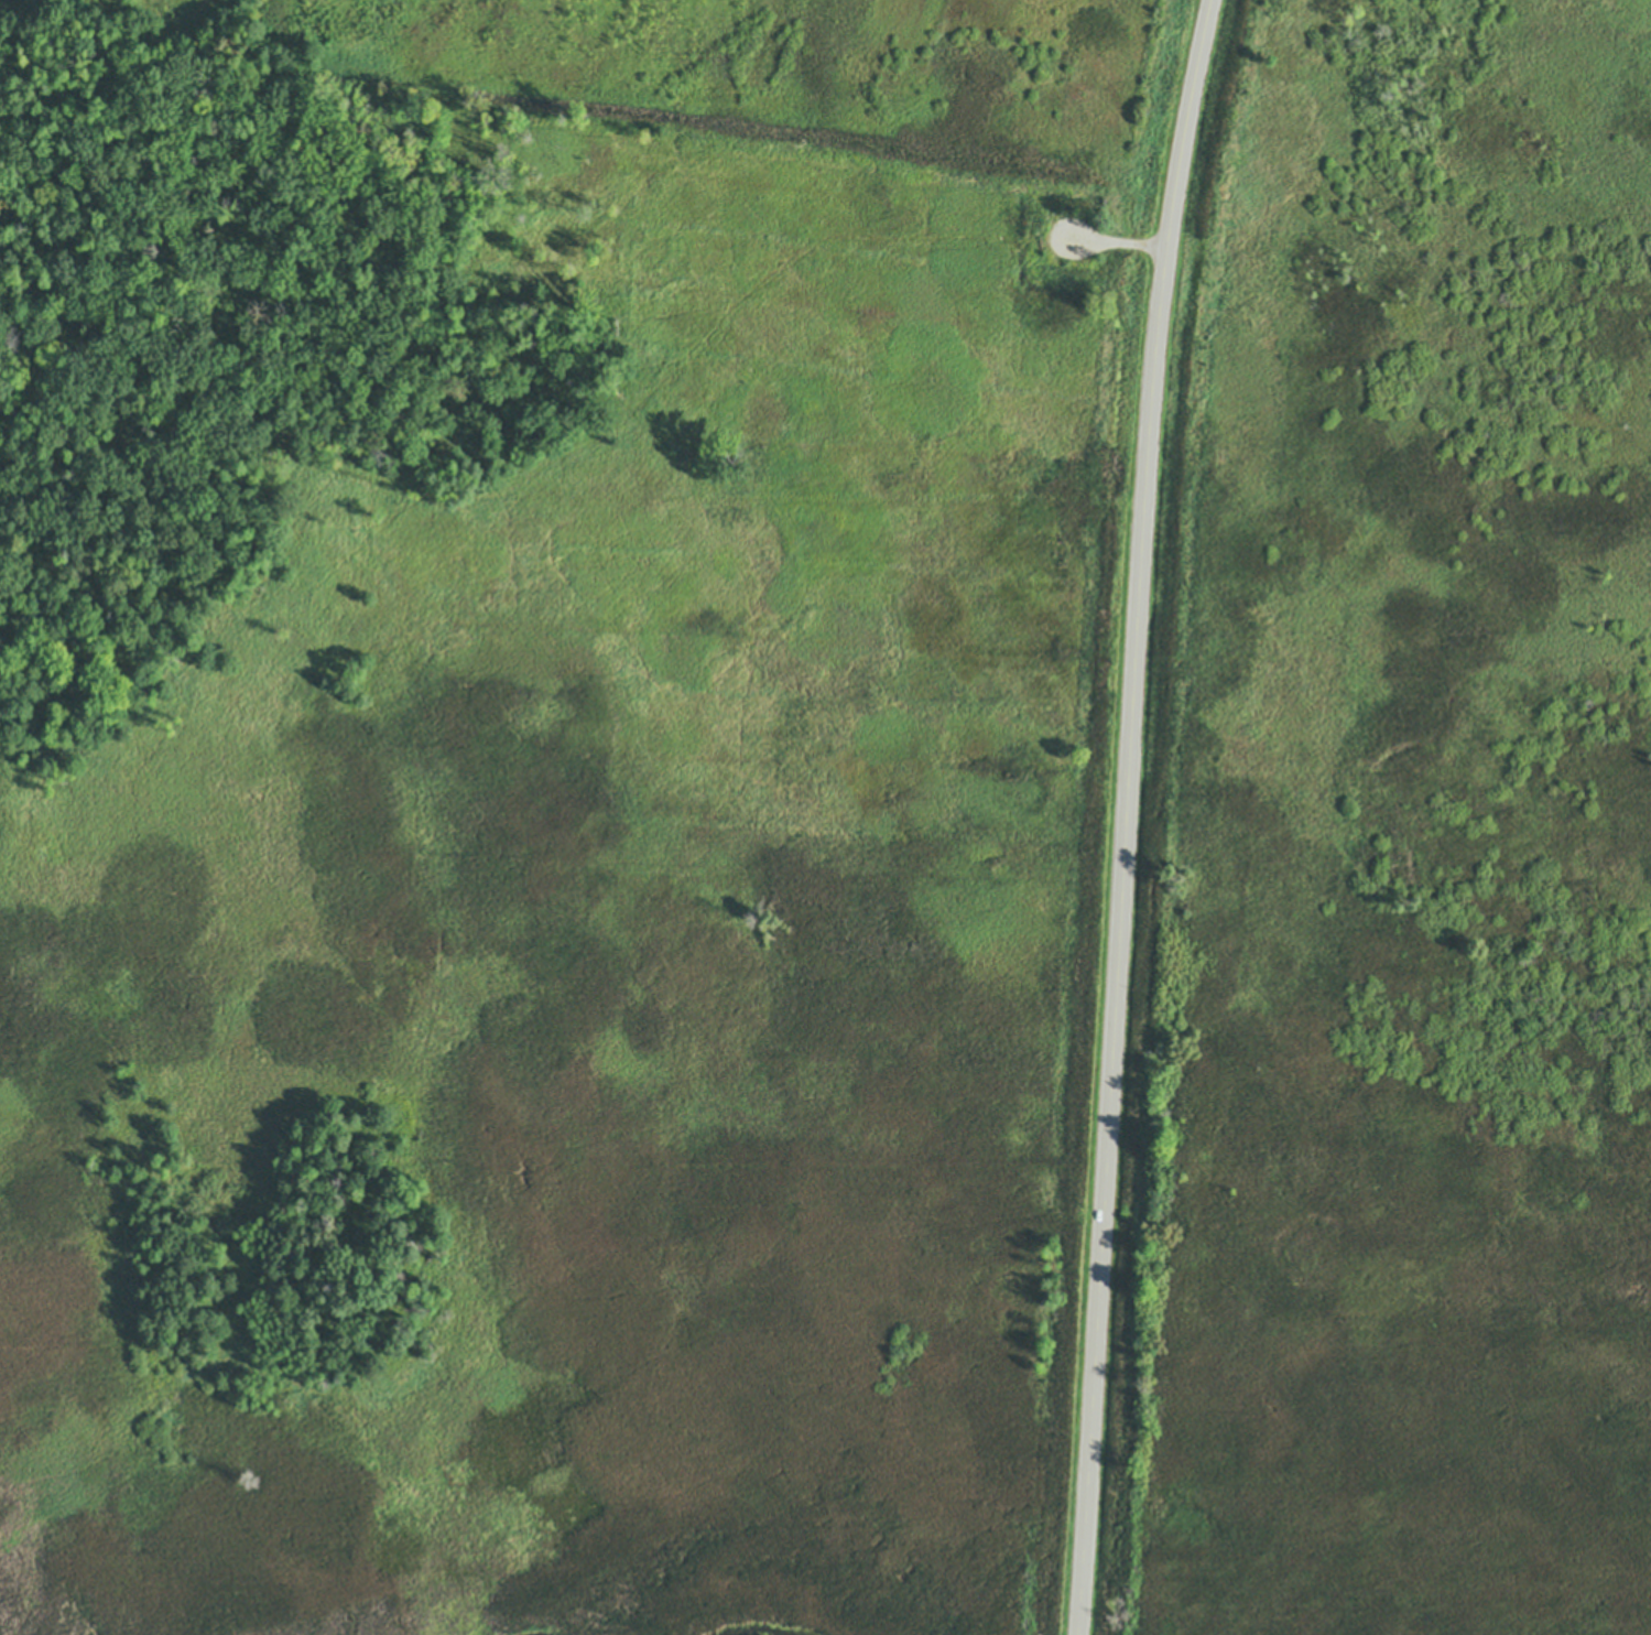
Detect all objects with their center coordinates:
parking lot: (1075, 239)
road: (1111, 242)
road: (1127, 815)
river: (764, 1631)

